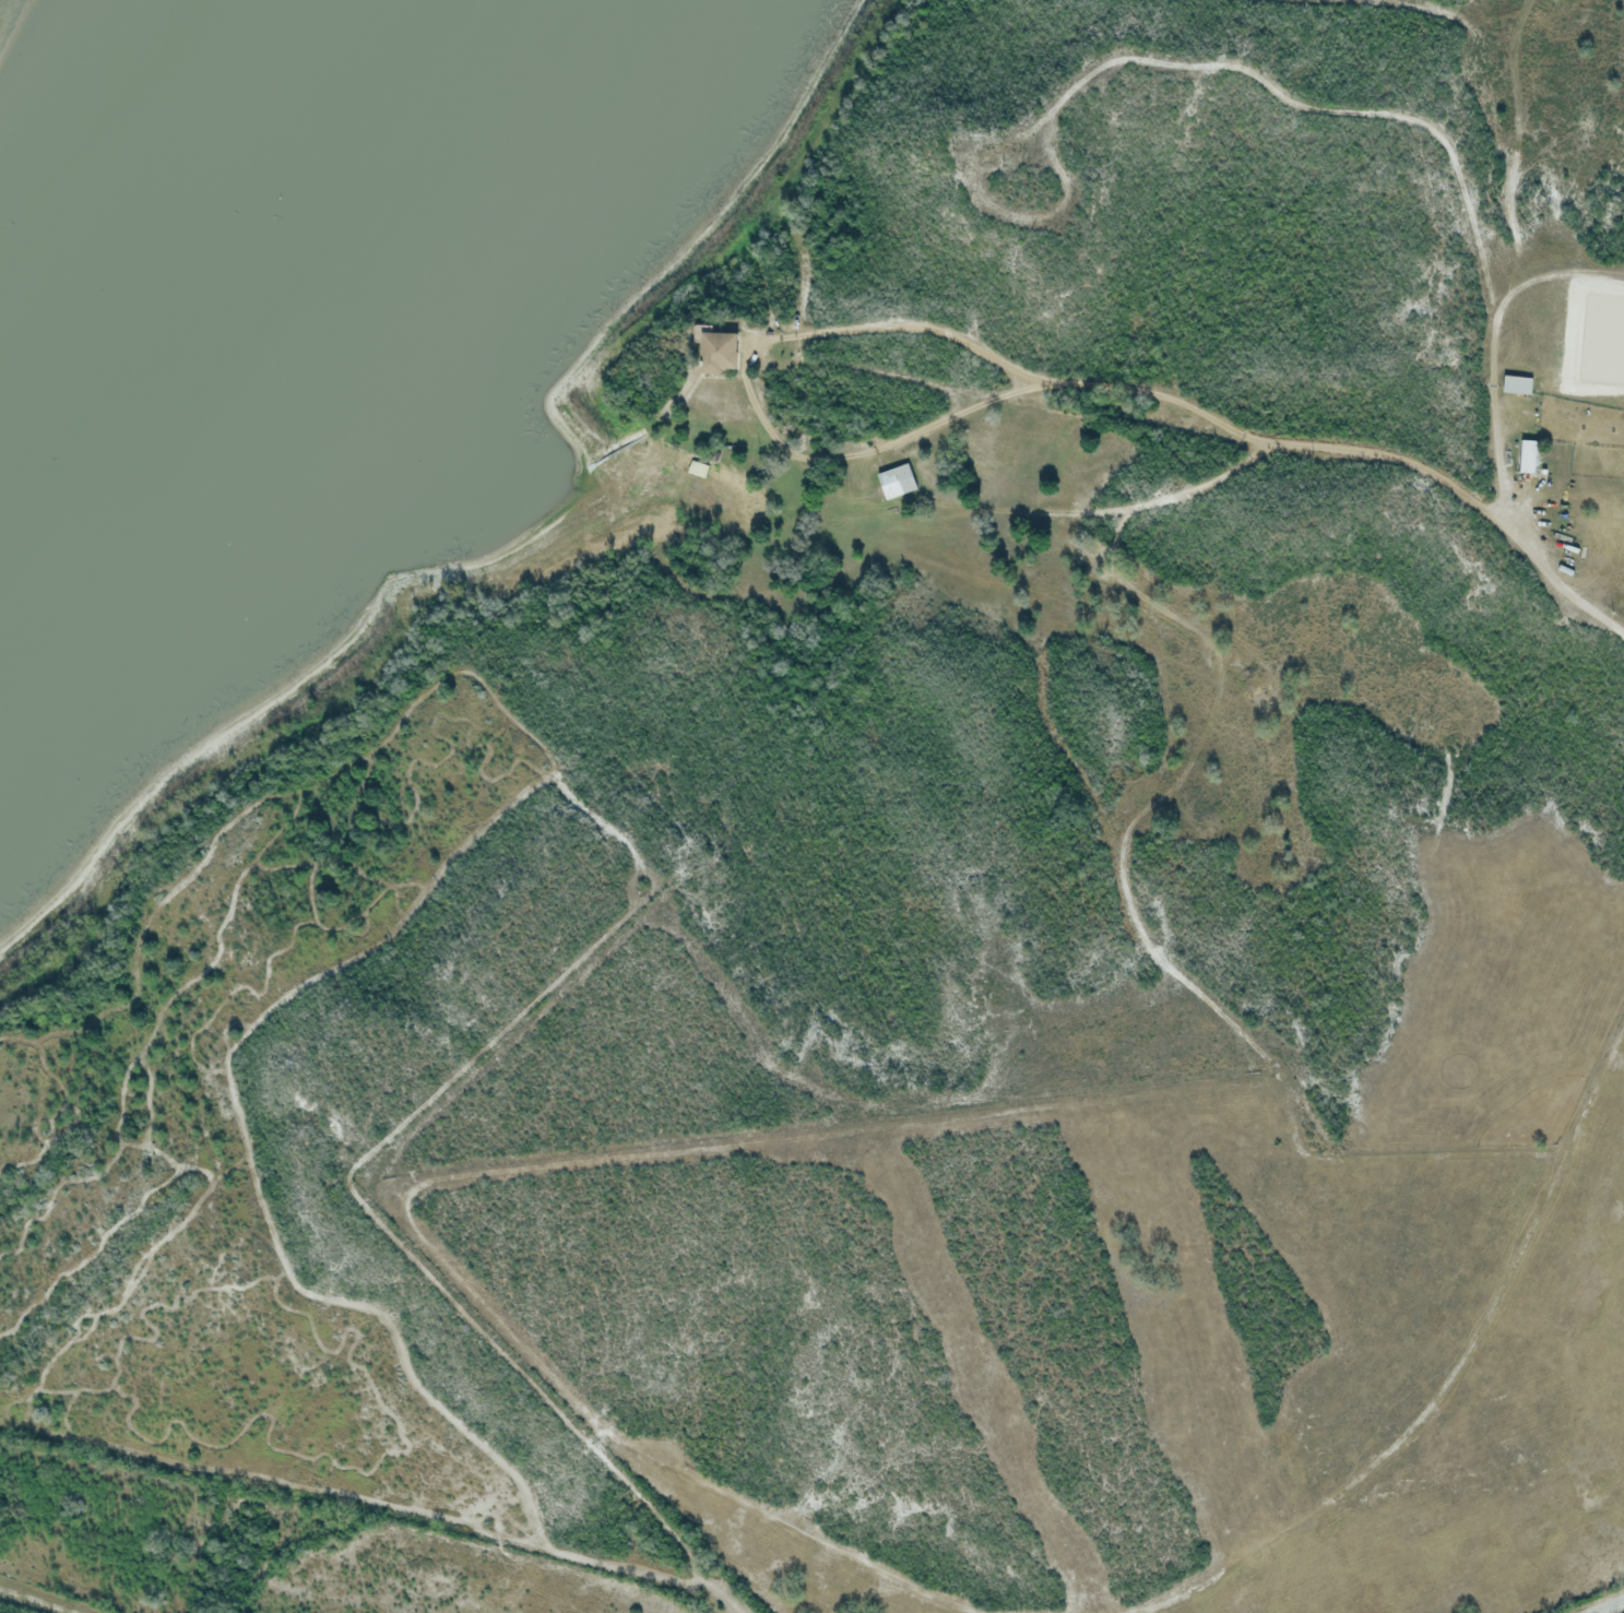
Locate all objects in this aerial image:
building: (716, 352)
building: (1518, 386)
building: (1530, 456)
building: (897, 482)
road: (1607, 1605)

